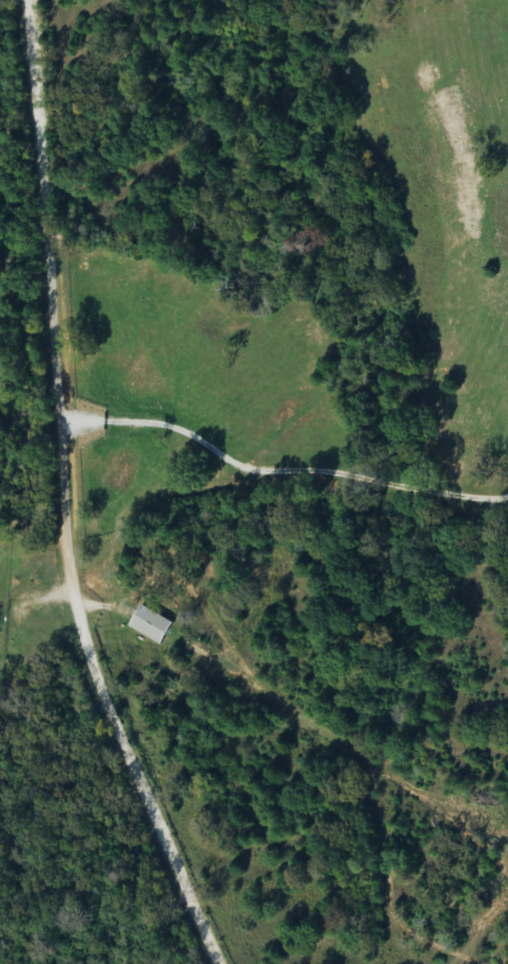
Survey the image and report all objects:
road: (65, 491)
park: (3, 604)
building: (153, 626)
road: (121, 879)

